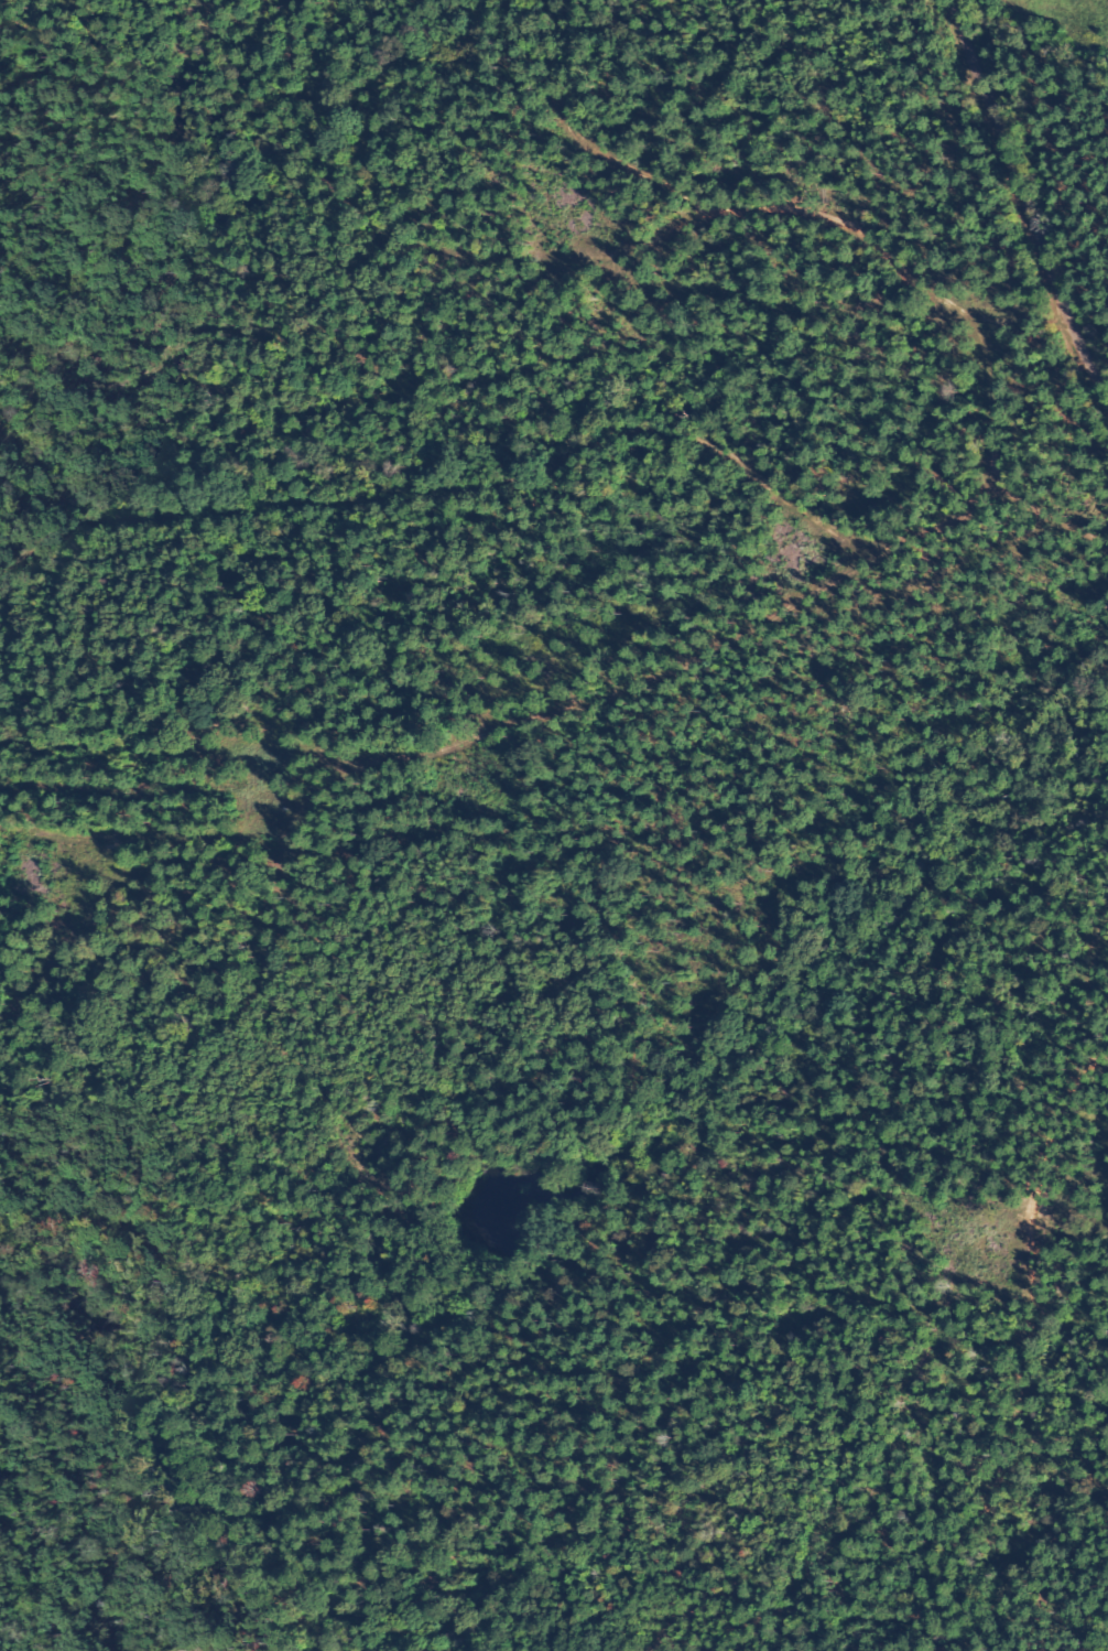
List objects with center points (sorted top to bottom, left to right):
road: (1014, 224)

